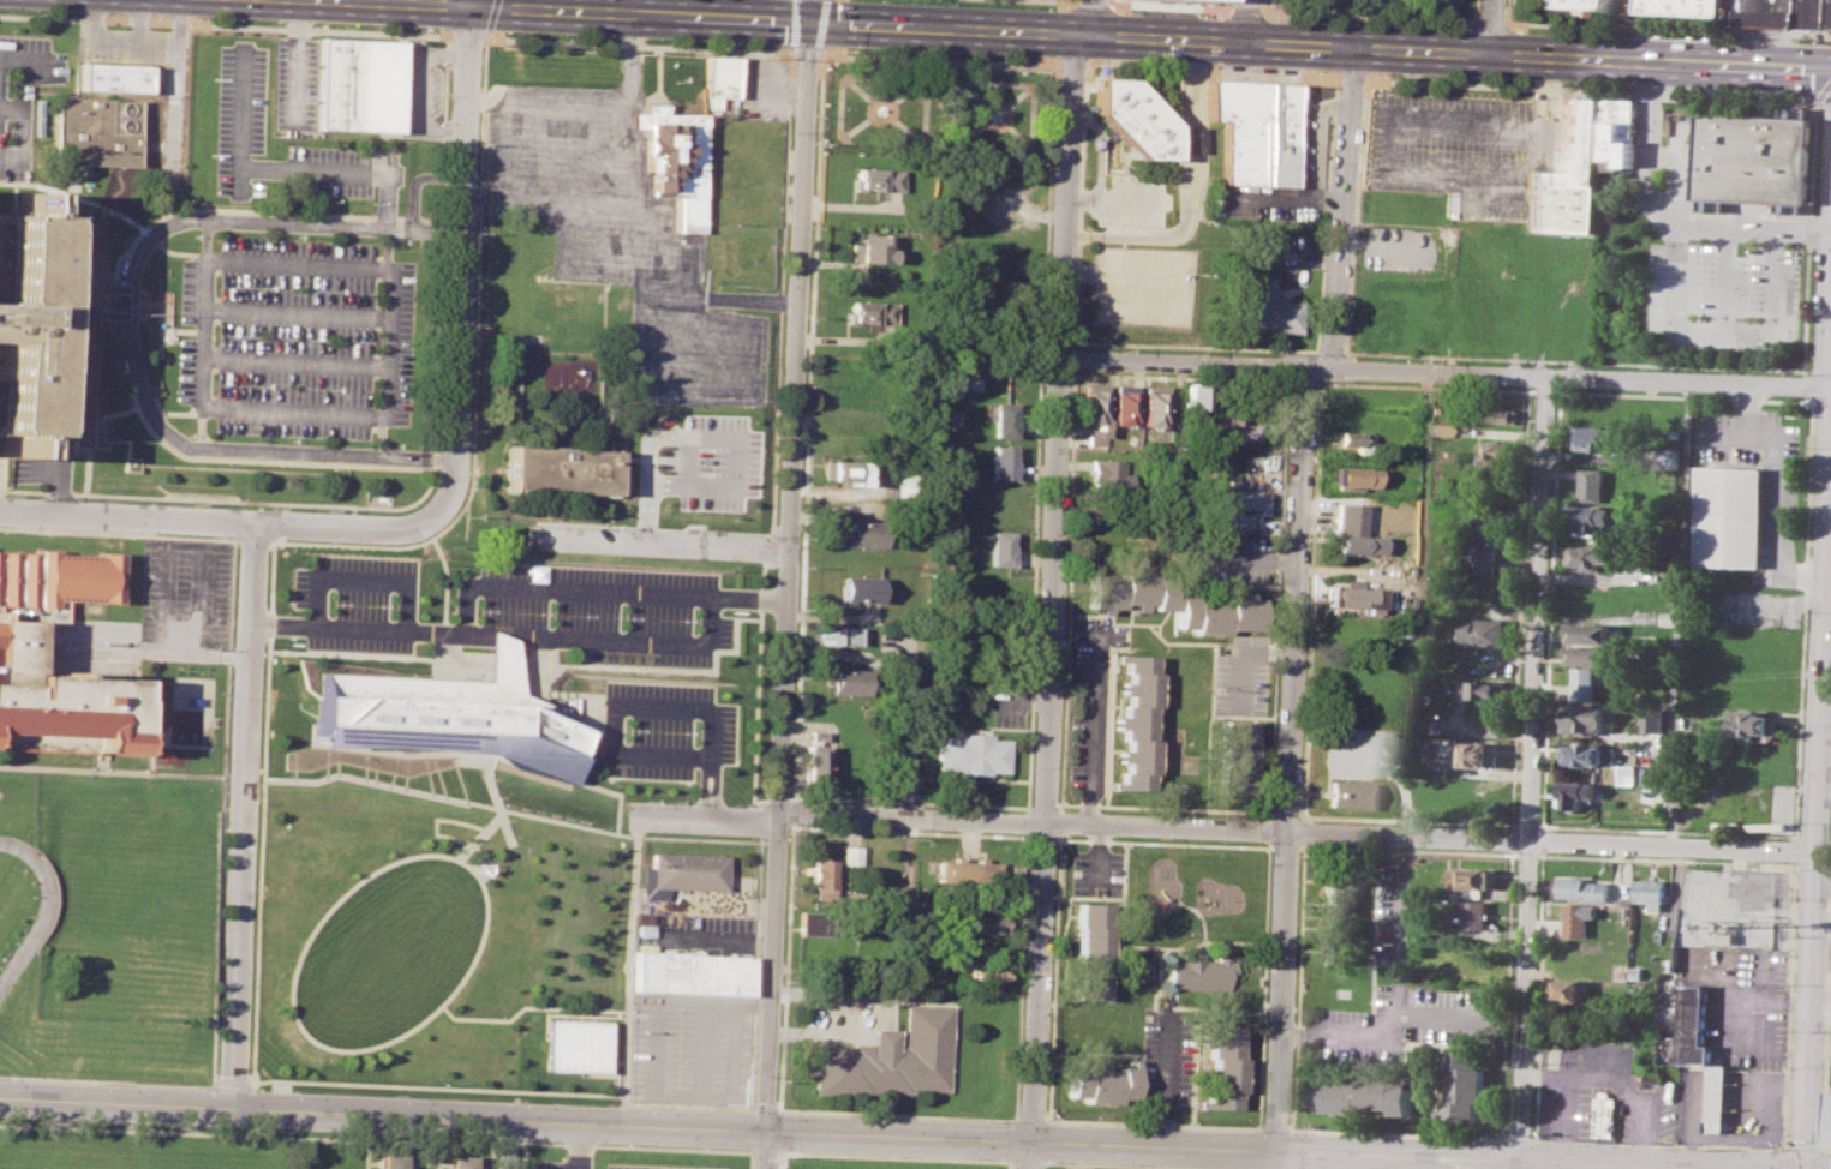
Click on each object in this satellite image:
road: (1066, 0)
road: (1099, 0)
road: (1106, 1)
road: (1168, 4)
road: (1232, 4)
building: (1569, 4)
road: (1058, 5)
road: (1262, 5)
building: (1683, 7)
road: (1245, 8)
road: (1472, 10)
road: (807, 11)
road: (1504, 11)
building: (1787, 13)
road: (491, 14)
road: (1366, 16)
road: (1091, 17)
road: (133, 20)
road: (1245, 20)
road: (1489, 20)
traffic signals: (807, 22)
road: (790, 24)
road: (821, 24)
road: (222, 25)
road: (1490, 26)
road: (1665, 26)
road: (1054, 32)
road: (1109, 34)
road: (466, 36)
road: (133, 41)
flagpole: (413, 42)
road: (636, 46)
road: (802, 50)
road: (819, 53)
road: (873, 58)
road: (292, 61)
road: (1054, 61)
road: (981, 64)
road: (1070, 67)
road: (1083, 68)
road: (18, 76)
building: (110, 77)
park: (940, 77)
road: (1348, 78)
road: (1362, 79)
building: (732, 80)
road: (971, 80)
road: (1452, 83)
parking lot: (292, 84)
road: (839, 84)
building: (359, 85)
road: (856, 88)
parking lot: (419, 91)
road: (423, 92)
parking lot: (22, 95)
road: (1818, 97)
road: (1542, 101)
road: (489, 102)
road: (517, 103)
road: (888, 109)
fountain: (880, 110)
fountain: (994, 115)
road: (876, 116)
parking lot: (234, 118)
building: (1135, 118)
road: (233, 120)
road: (1000, 122)
building: (1244, 128)
road: (951, 130)
road: (17, 131)
building: (91, 131)
road: (1029, 131)
building: (1620, 132)
building: (1285, 134)
building: (1186, 139)
road: (1392, 146)
parking lot: (1459, 146)
road: (566, 158)
building: (672, 158)
building: (1753, 158)
parking lot: (337, 172)
building: (1570, 173)
building: (876, 179)
road: (419, 180)
road: (622, 188)
road: (1658, 192)
road: (1189, 193)
road: (1079, 197)
road: (1111, 198)
parking lot: (1126, 200)
road: (1341, 206)
road: (1324, 215)
road: (1803, 226)
parking lot: (617, 235)
road: (199, 238)
road: (1808, 238)
road: (382, 240)
building: (868, 248)
road: (579, 257)
road: (1118, 272)
road: (1728, 275)
parking lot: (1141, 284)
road: (642, 290)
road: (777, 295)
road: (718, 296)
parking lot: (1724, 296)
building: (1263, 306)
building: (870, 311)
building: (1432, 322)
building: (44, 323)
road: (118, 325)
road: (1725, 328)
road: (193, 335)
parking lot: (291, 337)
road: (1073, 344)
road: (457, 350)
road: (1328, 352)
road: (695, 353)
road: (1314, 353)
road: (749, 355)
road: (1072, 359)
road: (1572, 361)
road: (1537, 362)
road: (1315, 365)
road: (1446, 368)
road: (473, 373)
road: (1531, 373)
road: (1178, 378)
road: (1316, 379)
building: (975, 382)
road: (1299, 382)
road: (1423, 385)
road: (1807, 385)
road: (1543, 390)
road: (1556, 391)
building: (1195, 397)
building: (1121, 403)
building: (1151, 403)
building: (1094, 412)
building: (1490, 412)
building: (1005, 418)
building: (1437, 428)
building: (1234, 430)
building: (1675, 432)
building: (1351, 437)
building: (1602, 438)
road: (642, 448)
building: (1503, 450)
building: (1668, 457)
road: (1830, 461)
building: (1004, 462)
parking lot: (695, 464)
building: (844, 470)
building: (556, 472)
road: (427, 474)
building: (1109, 474)
building: (1351, 475)
road: (1556, 482)
building: (1593, 484)
building: (1240, 503)
road: (126, 516)
building: (1730, 516)
building: (1598, 517)
building: (1490, 520)
road: (653, 528)
building: (862, 532)
building: (1352, 532)
road: (118, 533)
road: (250, 540)
road: (659, 542)
road: (765, 548)
building: (1000, 548)
building: (1594, 557)
parking lot: (1225, 558)
road: (1243, 558)
building: (1486, 559)
road: (358, 578)
road: (442, 583)
building: (861, 588)
road: (1066, 589)
road: (602, 591)
road: (1827, 593)
road: (784, 594)
building: (1352, 595)
road: (1306, 597)
parking lot: (169, 598)
road: (1274, 599)
parking lot: (354, 601)
road: (1049, 601)
building: (1175, 601)
road: (1419, 601)
road: (1520, 604)
road: (1681, 611)
parking lot: (604, 613)
road: (1802, 617)
road: (365, 629)
building: (1486, 631)
building: (1593, 633)
building: (838, 634)
road: (489, 635)
road: (623, 642)
building: (18, 647)
road: (145, 649)
road: (1240, 654)
building: (1593, 654)
parking lot: (1240, 675)
building: (846, 681)
building: (1587, 682)
road: (754, 687)
building: (1488, 688)
parking lot: (1088, 702)
road: (648, 708)
road: (151, 712)
building: (448, 717)
building: (1588, 717)
building: (1656, 720)
building: (1136, 721)
building: (1754, 725)
road: (1089, 727)
parking lot: (665, 730)
building: (1480, 753)
building: (969, 754)
building: (1590, 754)
building: (1234, 756)
road: (1287, 756)
building: (812, 765)
road: (1531, 766)
road: (110, 771)
building: (1632, 774)
building: (1653, 774)
road: (383, 780)
track: (0, 791)
building: (1354, 793)
building: (1578, 793)
road: (789, 796)
road: (791, 797)
road: (776, 798)
road: (761, 801)
road: (905, 801)
road: (1815, 802)
road: (1024, 808)
road: (1041, 808)
road: (1057, 808)
road: (1161, 808)
road: (790, 810)
road: (220, 811)
road: (259, 811)
road: (1284, 813)
road: (240, 814)
road: (1303, 817)
road: (1407, 819)
road: (1024, 821)
road: (758, 823)
road: (1055, 823)
road: (1528, 823)
road: (789, 826)
building: (1776, 826)
road: (1223, 827)
road: (636, 828)
road: (1267, 828)
road: (1665, 829)
road: (905, 831)
road: (1303, 831)
road: (772, 832)
road: (909, 833)
road: (1041, 835)
road: (1023, 837)
road: (1057, 837)
road: (1512, 838)
road: (1543, 839)
road: (759, 840)
road: (1162, 843)
road: (1267, 845)
road: (1302, 846)
road: (1284, 847)
road: (1407, 849)
road: (1794, 850)
road: (1513, 853)
road: (1527, 853)
building: (851, 855)
road: (1542, 855)
road: (1095, 856)
road: (1542, 871)
parking lot: (1095, 873)
building: (683, 875)
building: (820, 875)
building: (975, 875)
building: (1472, 877)
road: (635, 879)
road: (1821, 882)
building: (1760, 885)
building: (1582, 888)
road: (1830, 889)
building: (1653, 892)
track: (14, 900)
road: (1830, 901)
parking lot: (1395, 912)
road: (755, 913)
building: (1477, 913)
building: (1338, 915)
track: (41, 916)
building: (1578, 919)
road: (485, 921)
building: (820, 922)
building: (986, 924)
road: (716, 936)
road: (1400, 941)
building: (1090, 949)
building: (1199, 970)
building: (986, 971)
building: (1638, 972)
building: (693, 973)
building: (1569, 988)
road: (526, 1005)
road: (1787, 1005)
parking lot: (1402, 1021)
road: (1825, 1023)
building: (1693, 1024)
road: (1383, 1031)
building: (579, 1044)
building: (892, 1056)
parking lot: (1166, 1057)
building: (1219, 1067)
road: (1620, 1071)
road: (107, 1080)
building: (1103, 1081)
road: (1165, 1083)
road: (229, 1084)
building: (1466, 1084)
road: (433, 1086)
building: (1364, 1091)
building: (1716, 1097)
road: (687, 1105)
road: (1560, 1107)
road: (764, 1108)
road: (894, 1114)
building: (1603, 1114)
building: (1829, 1119)
road: (1029, 1120)
road: (1150, 1123)
road: (1273, 1129)
road: (258, 1133)
road: (876, 1134)
road: (1396, 1134)
road: (1516, 1138)
road: (504, 1141)
road: (508, 1144)
road: (1657, 1144)
road: (576, 1145)
road: (635, 1146)
road: (1802, 1149)
road: (1782, 1150)
road: (1825, 1151)
road: (765, 1152)
road: (1821, 1152)
road: (364, 1153)
road: (522, 1155)
road: (896, 1156)
building: (391, 1159)
road: (749, 1159)
road: (1288, 1159)
building: (461, 1161)
road: (782, 1161)
road: (1024, 1161)
road: (1782, 1161)
road: (1820, 1161)
road: (425, 1162)
parking lot: (563, 1164)
road: (1006, 1164)
road: (1138, 1164)
parking lot: (656, 1165)
road: (1039, 1165)

